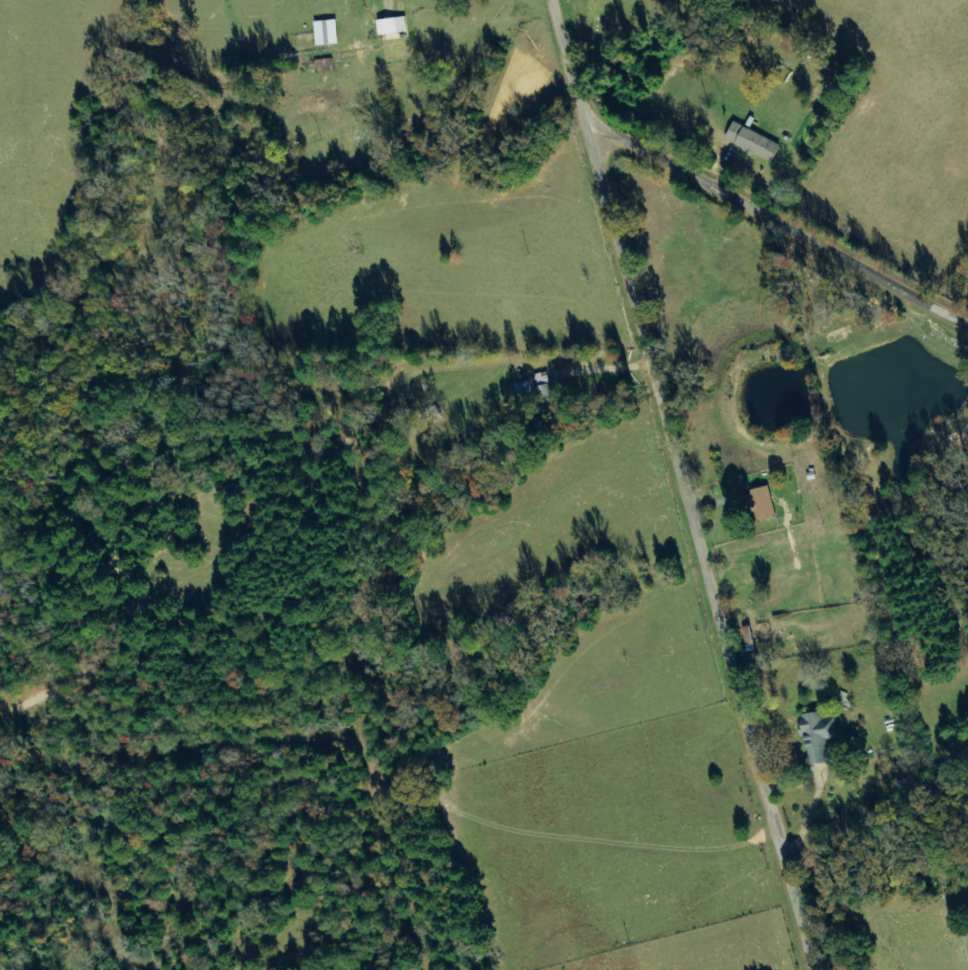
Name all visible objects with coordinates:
building: (394, 26)
road: (571, 59)
building: (755, 142)
road: (777, 224)
building: (540, 392)
building: (762, 504)
road: (699, 544)
building: (819, 736)

